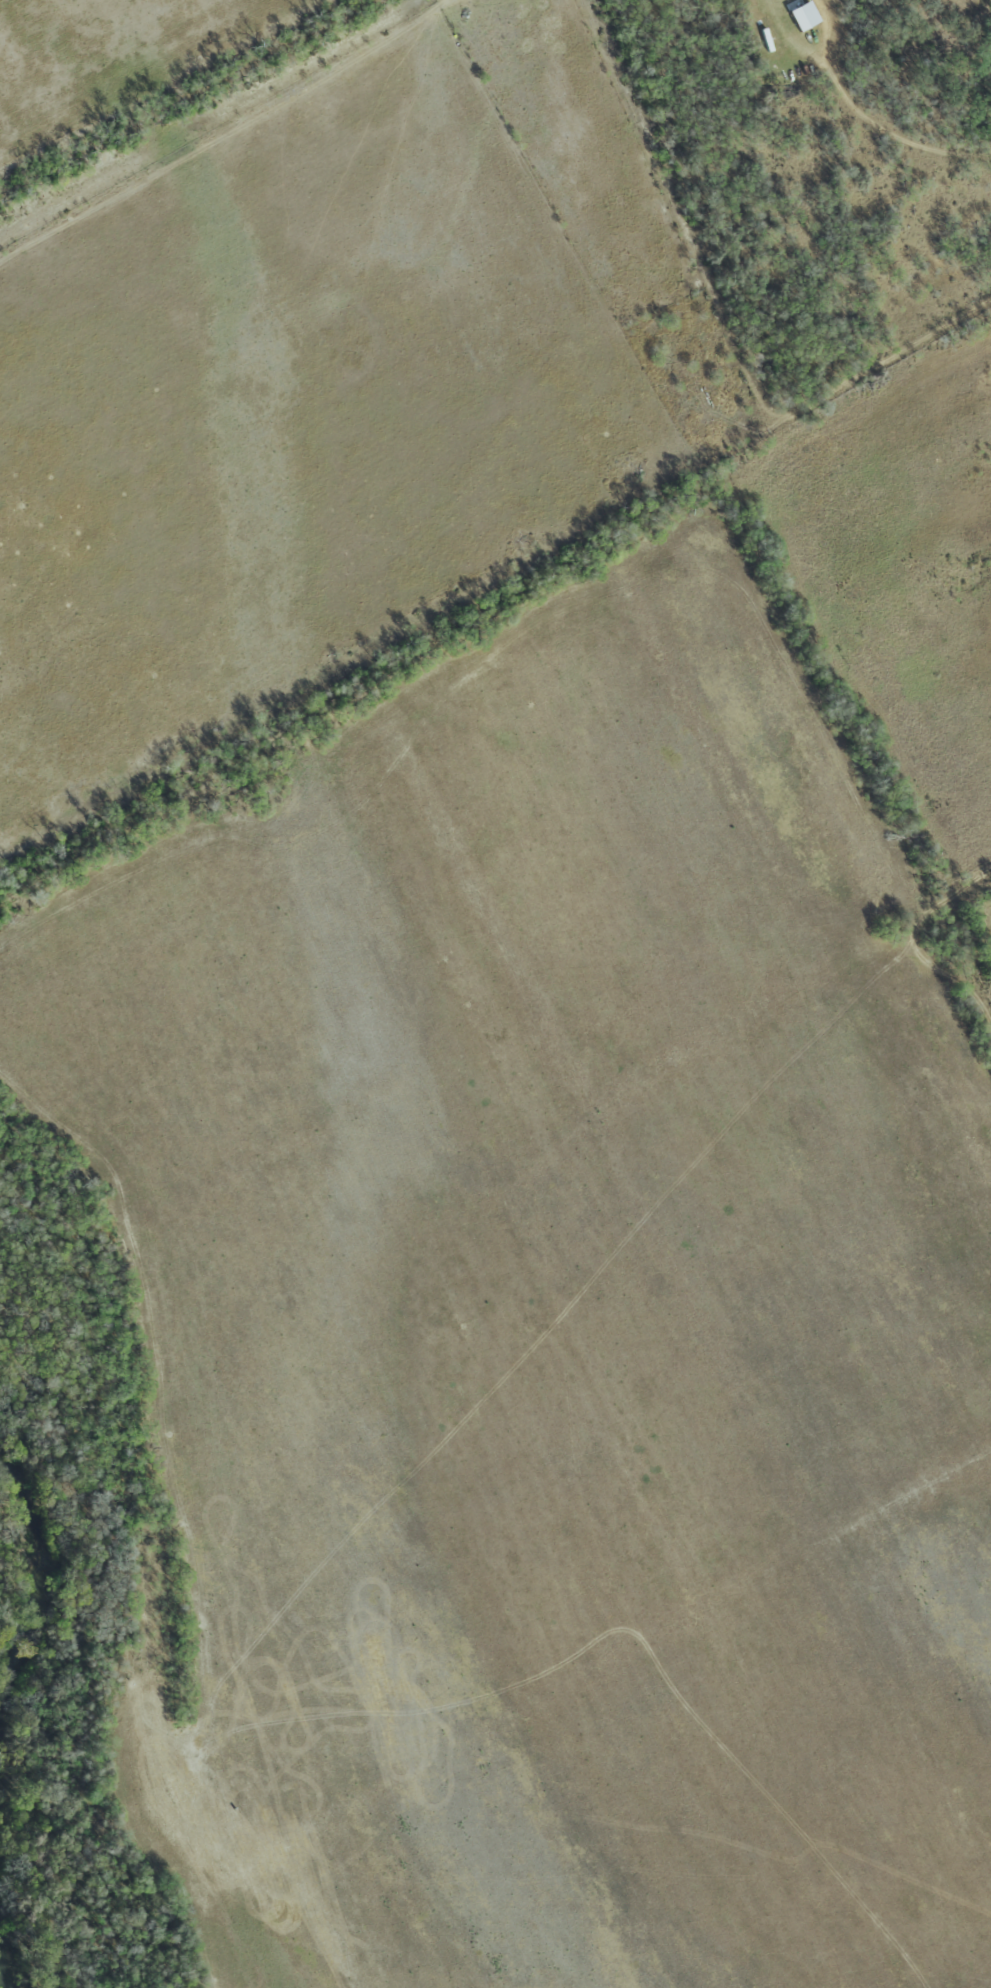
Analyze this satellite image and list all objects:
building: (803, 16)
river: (47, 1573)
river: (5, 1971)

